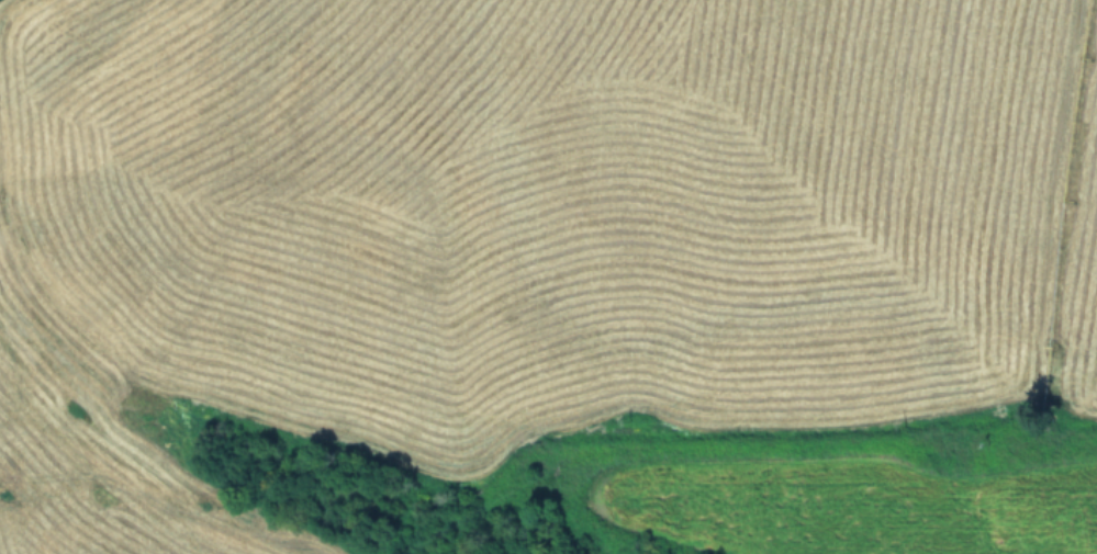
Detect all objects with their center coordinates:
crop: (548, 276)

